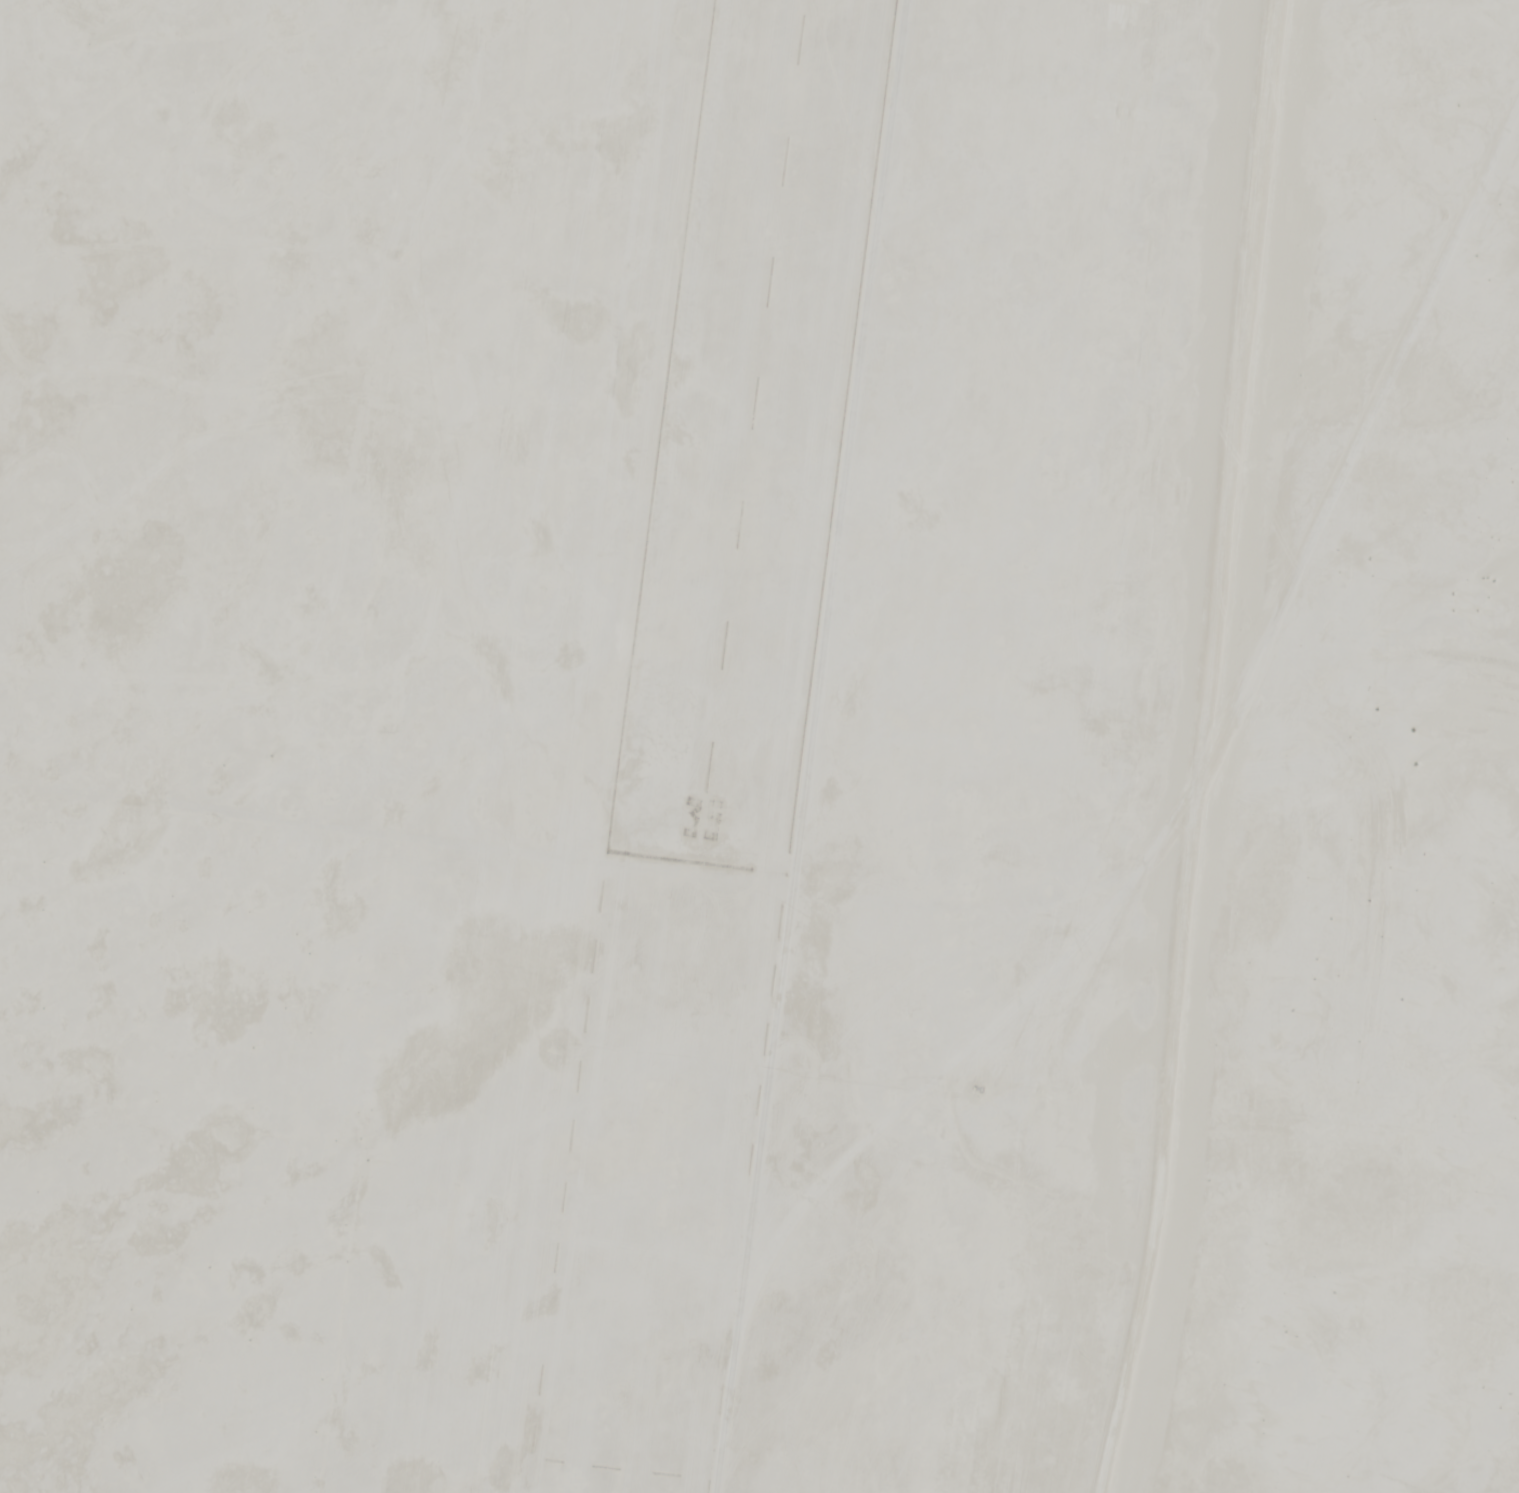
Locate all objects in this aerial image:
airport runway: (707, 746)
road: (1200, 748)

